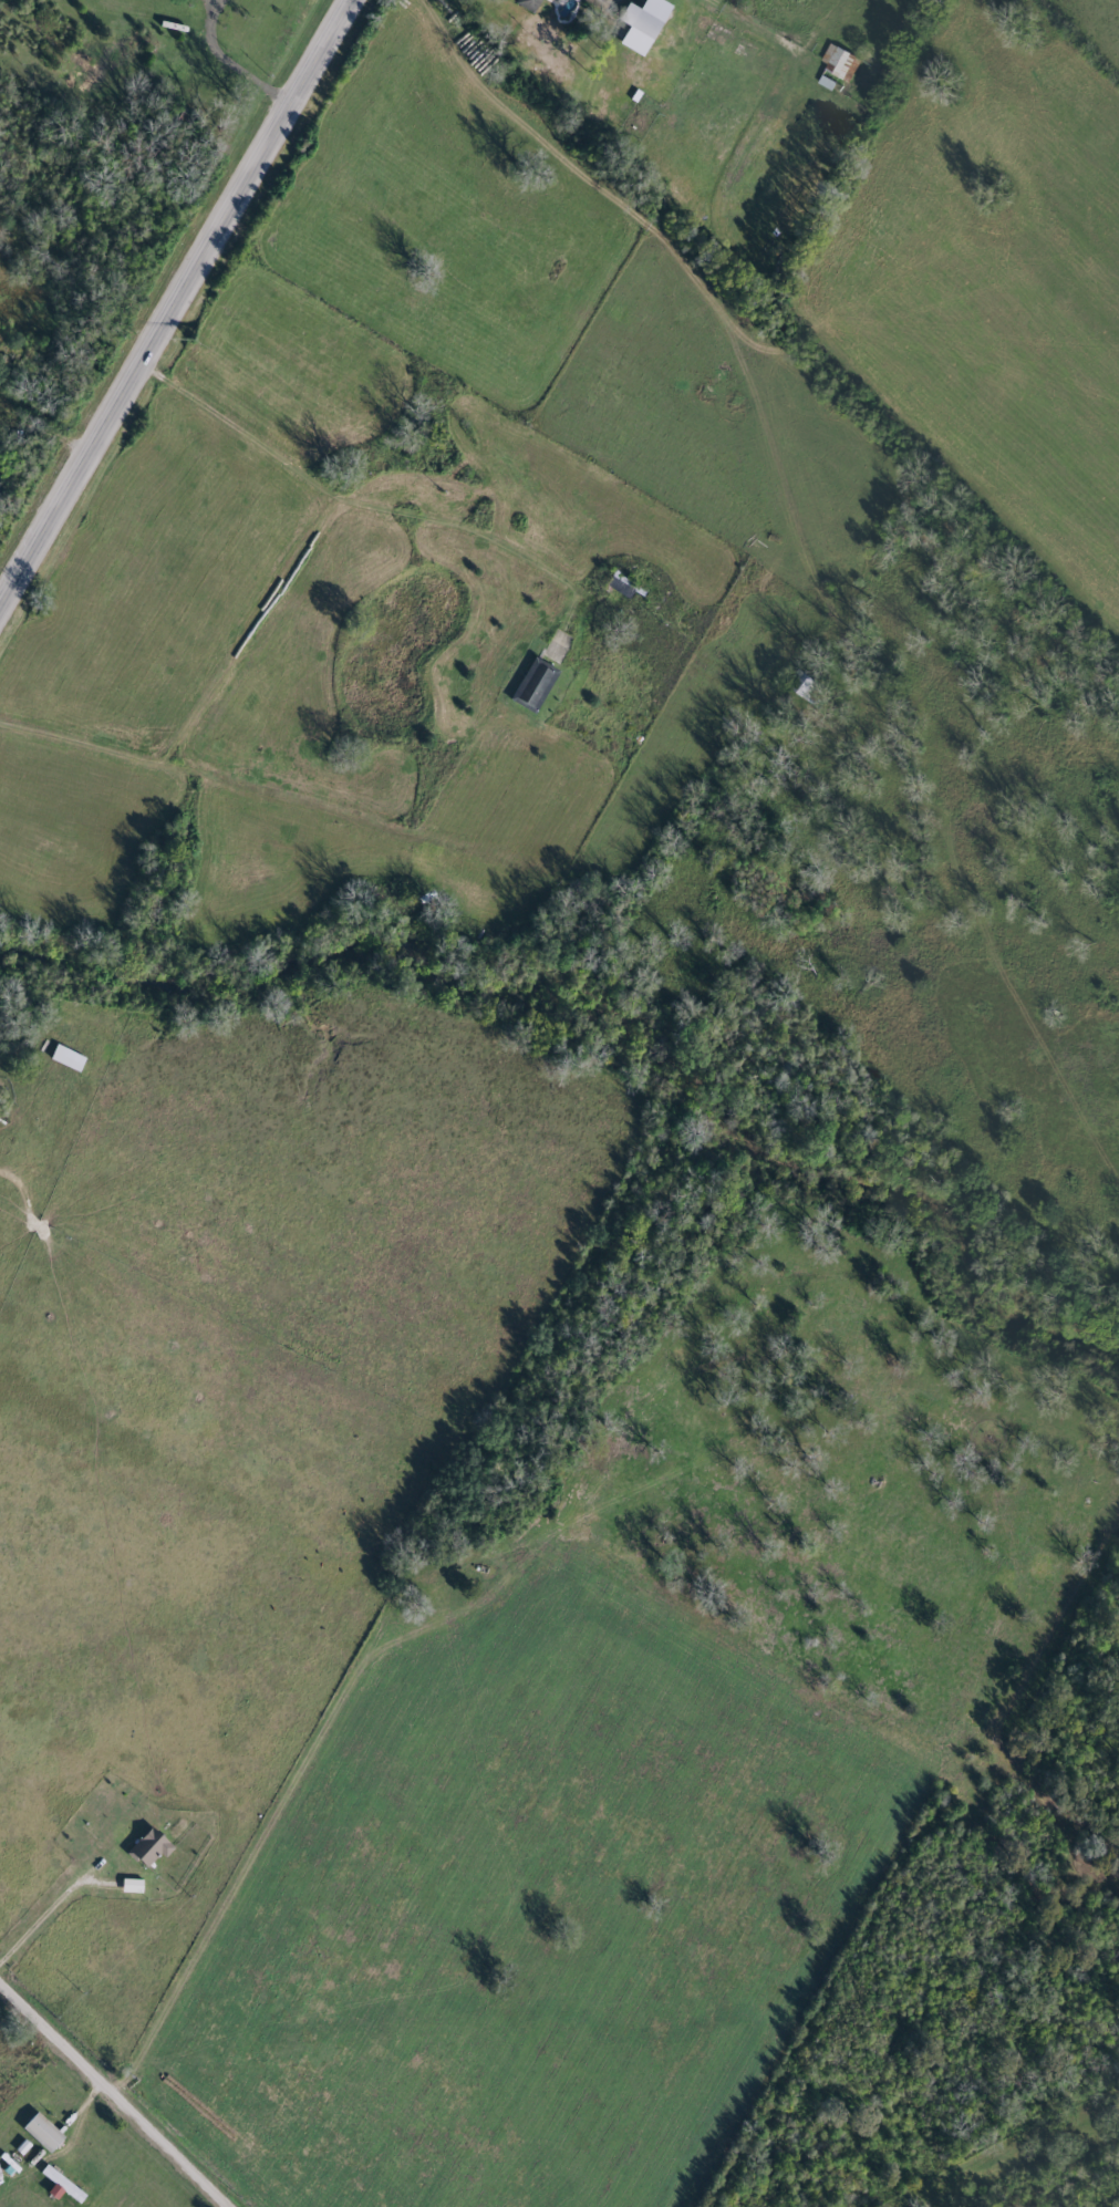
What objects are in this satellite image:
building: (551, 0)
building: (524, 3)
building: (636, 22)
road: (250, 34)
building: (835, 59)
building: (823, 81)
road: (87, 247)
road: (173, 299)
road: (819, 331)
road: (331, 501)
building: (528, 684)
building: (145, 1846)
road: (244, 1880)
building: (127, 1884)
road: (43, 1905)
road: (27, 2054)
road: (116, 2092)
building: (37, 2131)
building: (60, 2184)

